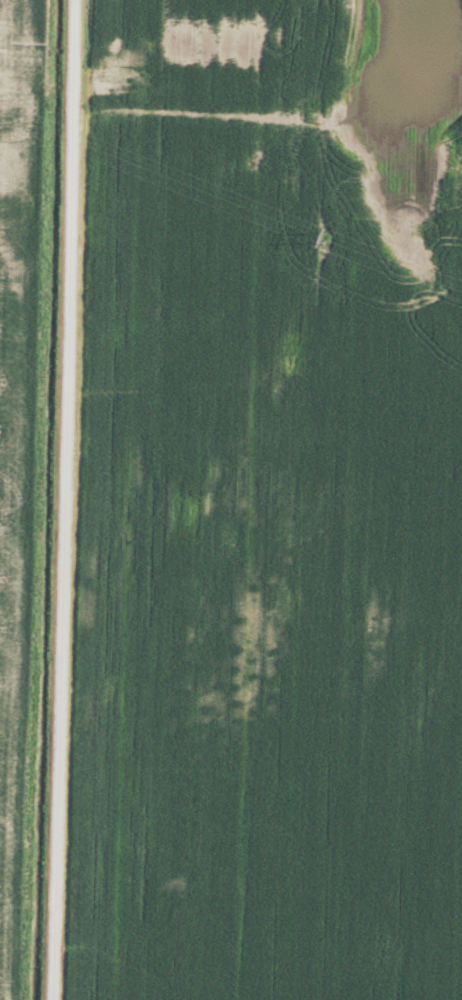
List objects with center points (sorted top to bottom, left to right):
power tower: (313, 242)
road: (64, 500)

